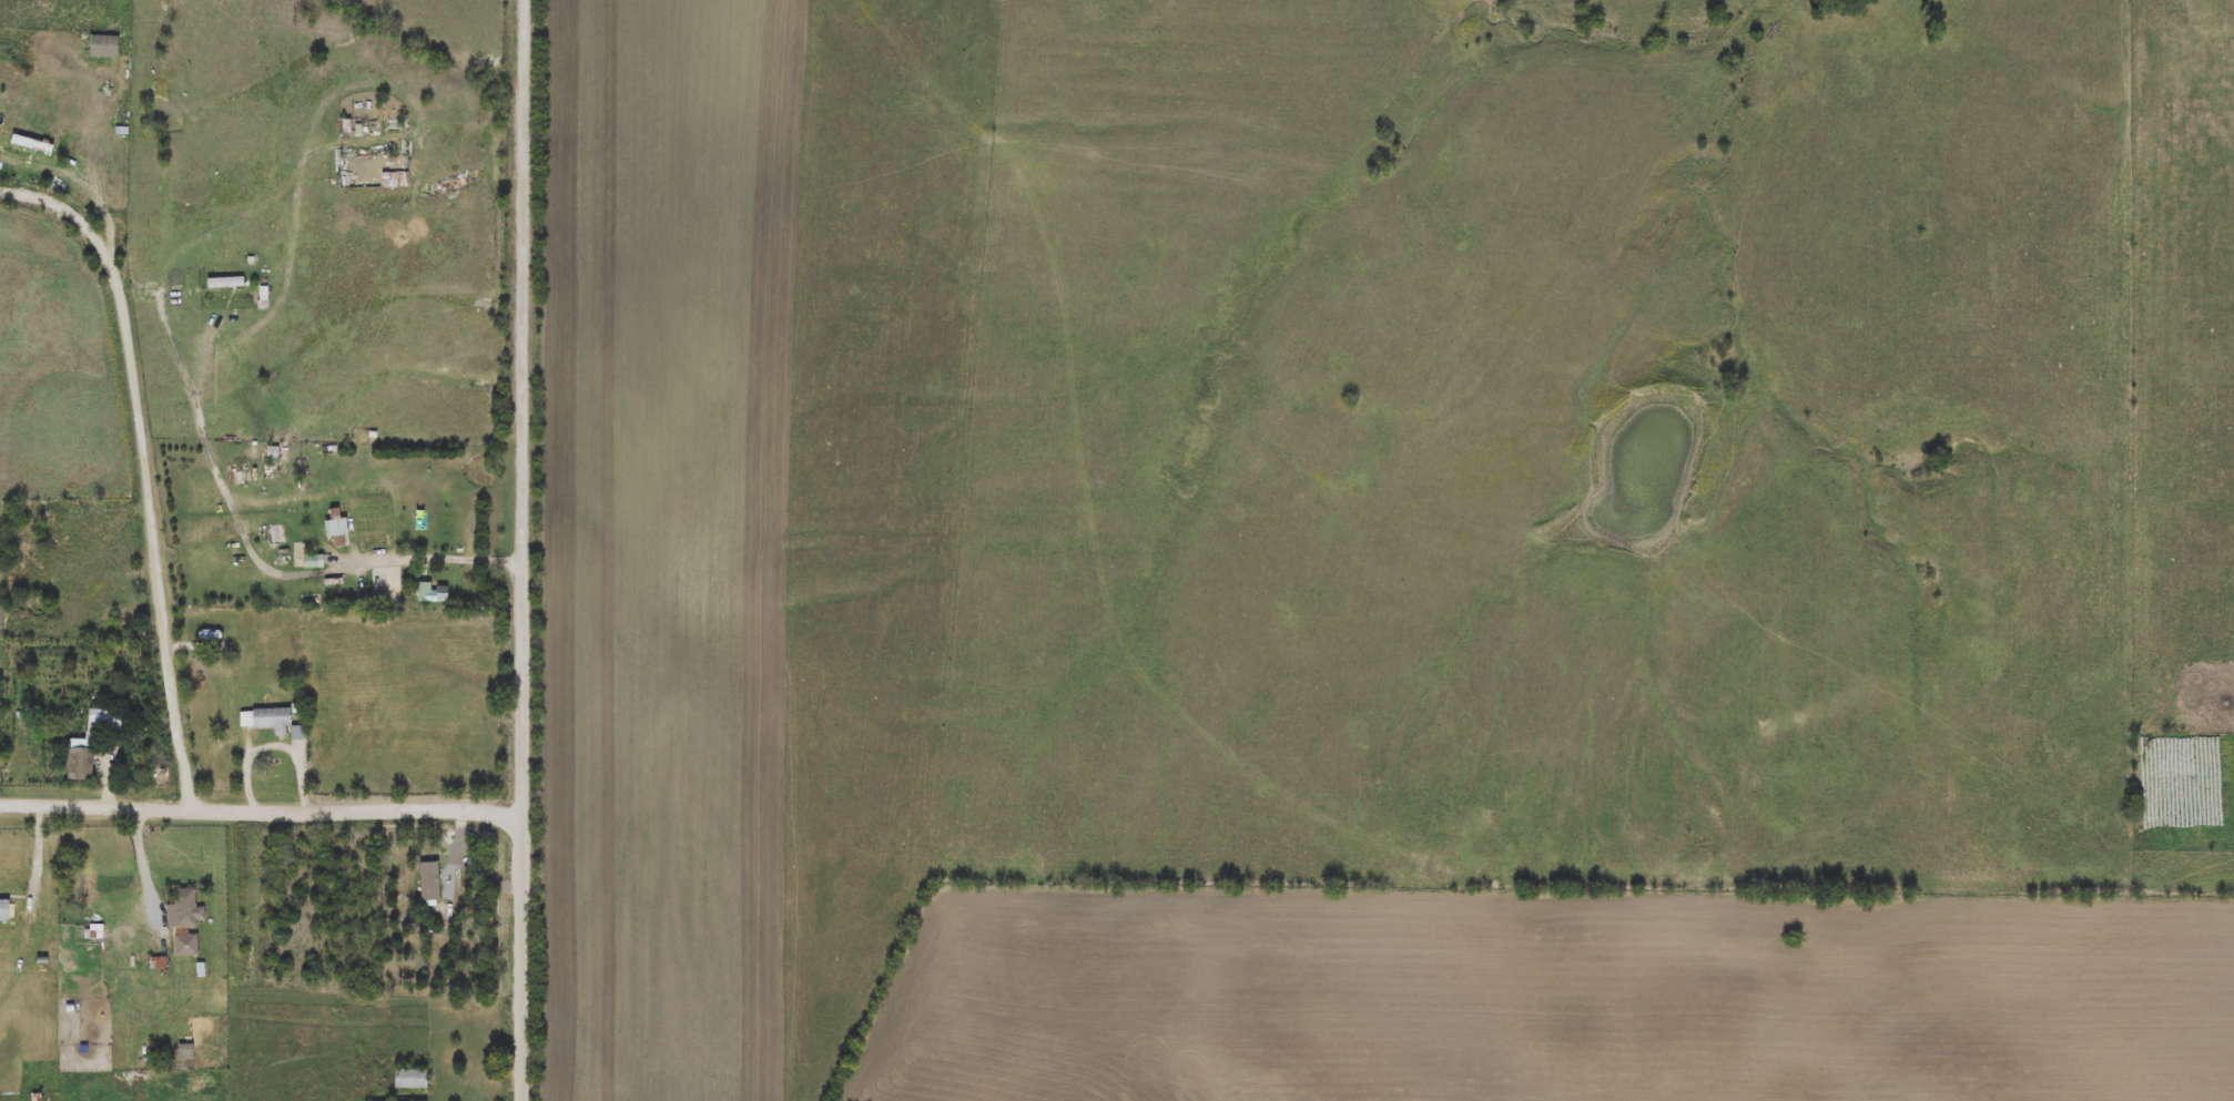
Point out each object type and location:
building: (21, 141)
building: (399, 180)
building: (226, 283)
road: (144, 463)
building: (337, 528)
road: (525, 550)
road: (438, 561)
building: (425, 592)
building: (267, 720)
road: (250, 756)
building: (82, 760)
road: (261, 807)
road: (44, 855)
road: (143, 865)
building: (187, 921)
building: (412, 1080)

